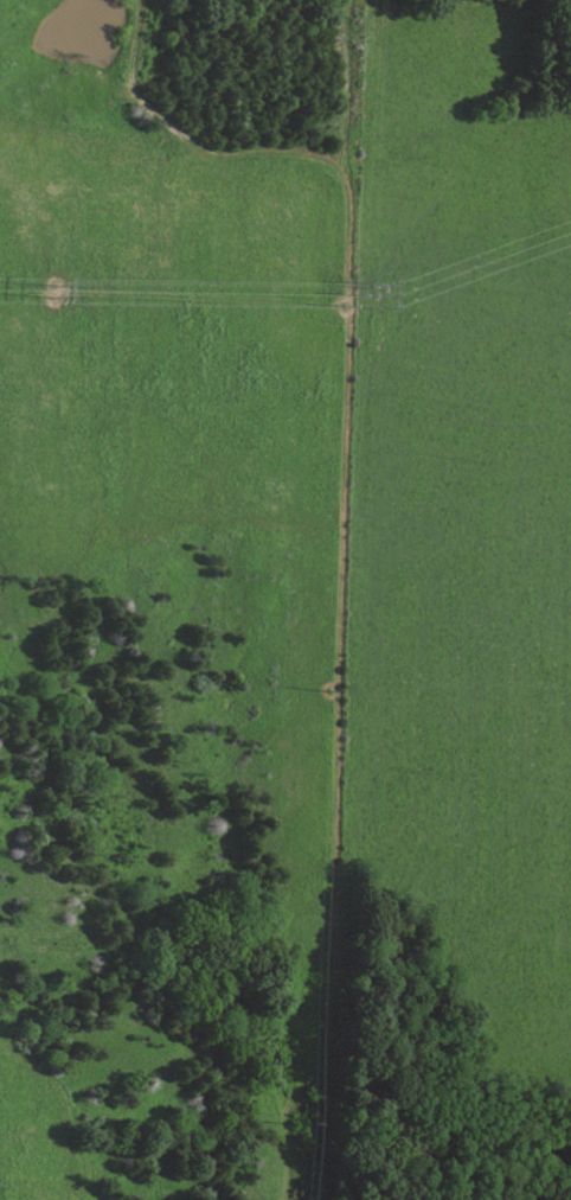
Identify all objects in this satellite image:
power tower: (377, 279)
power tower: (50, 285)
power tower: (378, 292)
power tower: (378, 306)

